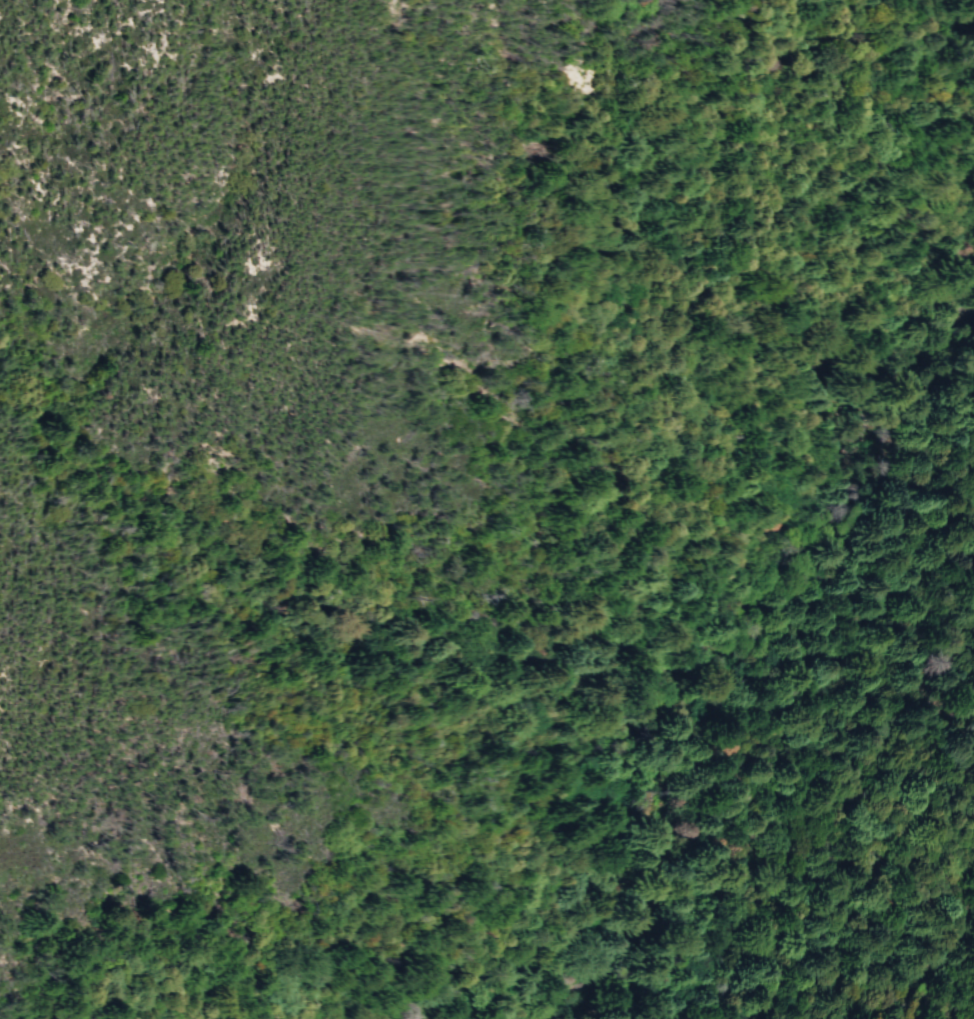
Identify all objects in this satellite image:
road: (619, 804)

